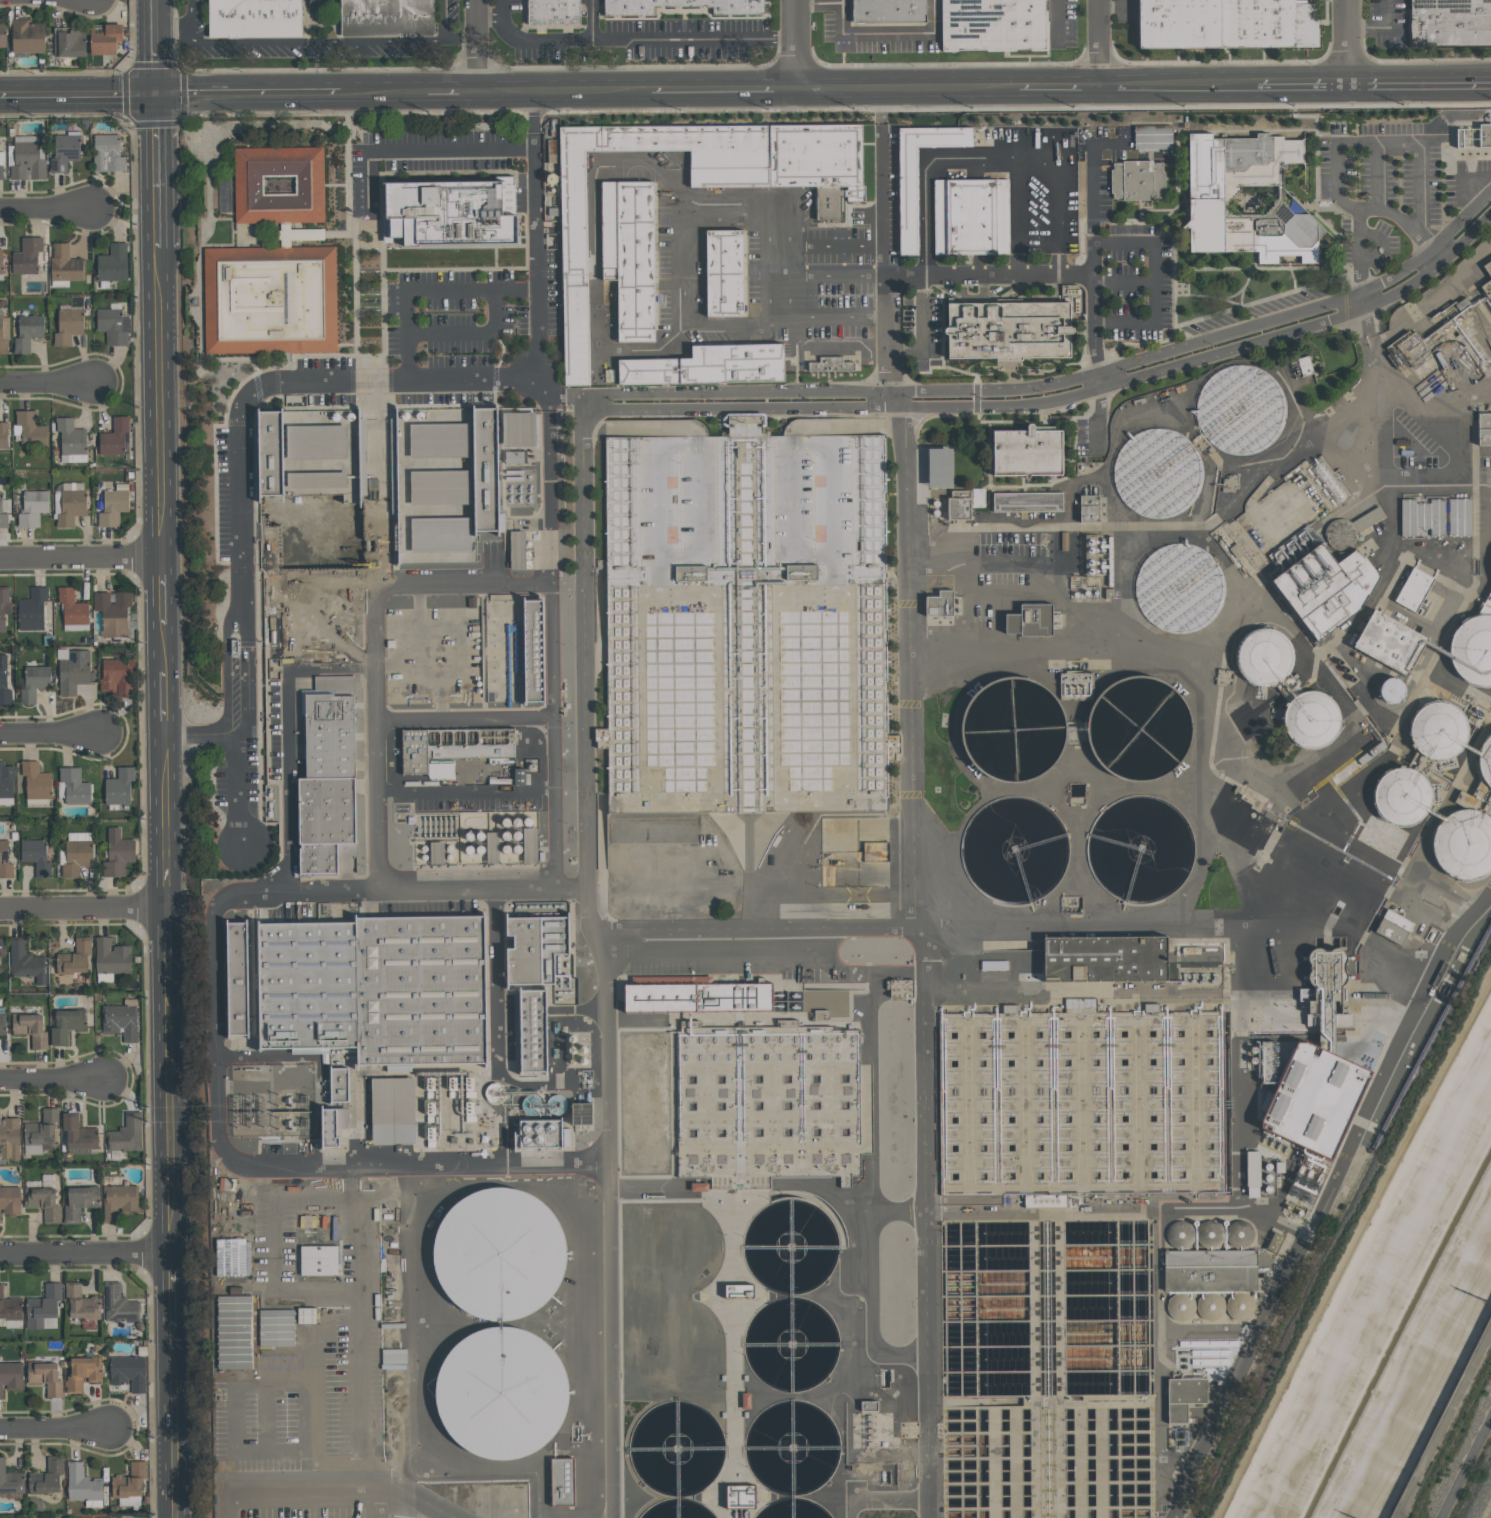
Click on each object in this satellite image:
road: (840, 1)
building: (681, 6)
road: (502, 9)
building: (888, 11)
building: (552, 12)
road: (194, 16)
road: (153, 17)
building: (385, 17)
building: (254, 18)
road: (592, 20)
road: (1062, 21)
building: (1450, 21)
building: (1226, 22)
building: (992, 24)
road: (1381, 27)
road: (460, 33)
road: (174, 34)
road: (864, 34)
building: (3, 35)
building: (26, 36)
building: (105, 39)
road: (629, 40)
building: (69, 43)
road: (336, 43)
road: (1350, 43)
road: (1098, 45)
road: (796, 46)
road: (478, 48)
road: (154, 65)
road: (1421, 85)
road: (1304, 87)
road: (1187, 89)
road: (1067, 90)
road: (950, 91)
road: (839, 92)
road: (724, 94)
road: (592, 95)
traffic signals: (155, 96)
road: (247, 96)
road: (505, 96)
road: (77, 97)
road: (384, 97)
road: (453, 97)
road: (533, 136)
building: (1152, 137)
building: (1484, 137)
road: (1338, 145)
road: (417, 151)
building: (63, 152)
building: (106, 153)
road: (987, 158)
building: (27, 161)
road: (155, 171)
building: (1, 172)
road: (1090, 177)
building: (1137, 179)
road: (883, 183)
building: (278, 185)
building: (691, 186)
road: (1471, 188)
building: (1210, 197)
building: (908, 200)
road: (44, 210)
building: (451, 211)
building: (969, 217)
road: (1014, 217)
building: (304, 234)
road: (787, 235)
road: (1130, 244)
road: (836, 247)
road: (1358, 249)
building: (629, 255)
building: (26, 256)
road: (595, 256)
road: (685, 259)
building: (0, 260)
building: (112, 263)
building: (64, 264)
building: (724, 272)
road: (837, 274)
road: (988, 274)
road: (536, 276)
building: (1487, 281)
road: (427, 290)
road: (789, 297)
building: (269, 300)
road: (1353, 301)
road: (837, 320)
building: (67, 326)
building: (113, 326)
building: (1009, 328)
road: (885, 331)
building: (27, 332)
road: (467, 333)
building: (3, 334)
road: (924, 334)
building: (830, 364)
building: (707, 365)
road: (1103, 377)
road: (265, 381)
road: (1059, 381)
road: (46, 384)
road: (887, 396)
road: (1058, 397)
road: (1405, 400)
road: (156, 401)
building: (1237, 409)
storage tank: (1240, 410)
building: (1484, 427)
building: (518, 428)
building: (30, 429)
building: (3, 434)
building: (70, 436)
building: (113, 438)
building: (439, 440)
building: (1026, 452)
building: (308, 454)
building: (514, 457)
building: (939, 468)
building: (485, 469)
road: (1388, 469)
building: (1157, 472)
storage tank: (1157, 472)
road: (548, 477)
road: (1484, 478)
building: (440, 488)
building: (979, 497)
building: (1027, 502)
building: (70, 506)
building: (112, 507)
building: (1089, 507)
building: (32, 508)
building: (958, 508)
building: (1436, 516)
building: (2, 517)
building: (440, 534)
building: (516, 549)
road: (78, 555)
storage tank: (1179, 585)
building: (1178, 586)
building: (1325, 587)
road: (156, 589)
building: (1413, 589)
building: (4, 602)
road: (331, 603)
building: (939, 603)
building: (32, 607)
building: (72, 608)
building: (113, 612)
building: (1030, 619)
building: (746, 623)
building: (1389, 641)
road: (372, 642)
road: (551, 643)
road: (157, 646)
building: (532, 650)
building: (1472, 650)
storage tank: (1472, 650)
building: (1262, 657)
storage tank: (1262, 657)
building: (72, 672)
building: (116, 676)
building: (4, 682)
building: (33, 684)
road: (237, 688)
building: (1391, 690)
storage tank: (1391, 690)
road: (158, 700)
storage tank: (1310, 719)
building: (1311, 719)
road: (463, 720)
storage tank: (1138, 726)
storage tank: (1012, 729)
building: (1437, 730)
storage tank: (1437, 730)
road: (47, 731)
road: (286, 734)
road: (198, 737)
building: (452, 746)
building: (1352, 749)
building: (1485, 761)
storage tank: (1485, 761)
building: (326, 775)
building: (6, 781)
building: (36, 781)
building: (74, 786)
building: (118, 788)
road: (237, 790)
road: (464, 792)
building: (1401, 796)
storage tank: (1401, 796)
road: (159, 818)
wastewater plant: (949, 826)
building: (1463, 845)
storage tank: (1463, 845)
storage tank: (1141, 848)
storage tank: (1014, 850)
building: (116, 854)
building: (35, 856)
building: (76, 857)
building: (1301, 860)
building: (4, 861)
road: (80, 908)
road: (1182, 918)
building: (1392, 927)
road: (757, 928)
road: (162, 943)
building: (2, 946)
building: (534, 949)
road: (602, 954)
building: (74, 957)
building: (111, 957)
building: (1104, 958)
road: (927, 959)
building: (25, 962)
building: (0, 968)
building: (236, 978)
building: (374, 988)
building: (898, 988)
building: (1324, 988)
building: (697, 998)
building: (119, 1021)
building: (2, 1024)
building: (66, 1025)
building: (29, 1029)
building: (532, 1031)
road: (217, 1035)
road: (51, 1081)
building: (338, 1085)
building: (1313, 1097)
building: (767, 1106)
building: (1090, 1110)
building: (392, 1111)
building: (581, 1113)
road: (165, 1114)
building: (332, 1125)
building: (40, 1128)
building: (543, 1134)
building: (78, 1135)
building: (125, 1135)
building: (9, 1139)
building: (112, 1181)
road: (1324, 1199)
building: (9, 1201)
building: (118, 1201)
building: (41, 1202)
building: (78, 1203)
road: (1348, 1244)
storage tank: (790, 1246)
road: (277, 1247)
road: (83, 1251)
storage tank: (498, 1252)
building: (318, 1261)
building: (1213, 1261)
road: (168, 1288)
building: (80, 1303)
building: (117, 1304)
building: (41, 1306)
building: (9, 1307)
building: (307, 1315)
road: (357, 1321)
building: (500, 1321)
building: (275, 1327)
river: (1397, 1331)
building: (233, 1332)
storage tank: (791, 1344)
building: (82, 1372)
building: (127, 1372)
building: (10, 1376)
building: (44, 1377)
road: (248, 1386)
storage tank: (499, 1393)
building: (1184, 1397)
road: (170, 1422)
road: (53, 1429)
building: (1020, 1445)
storage tank: (792, 1446)
storage tank: (675, 1448)
road: (1467, 1470)
building: (45, 1477)
building: (10, 1480)
building: (128, 1481)
building: (81, 1483)
building: (561, 1483)
road: (297, 1484)
road: (410, 1494)
building: (734, 1498)
road: (370, 1500)
road: (230, 1501)
storage tank: (792, 1509)
storage tank: (677, 1510)

